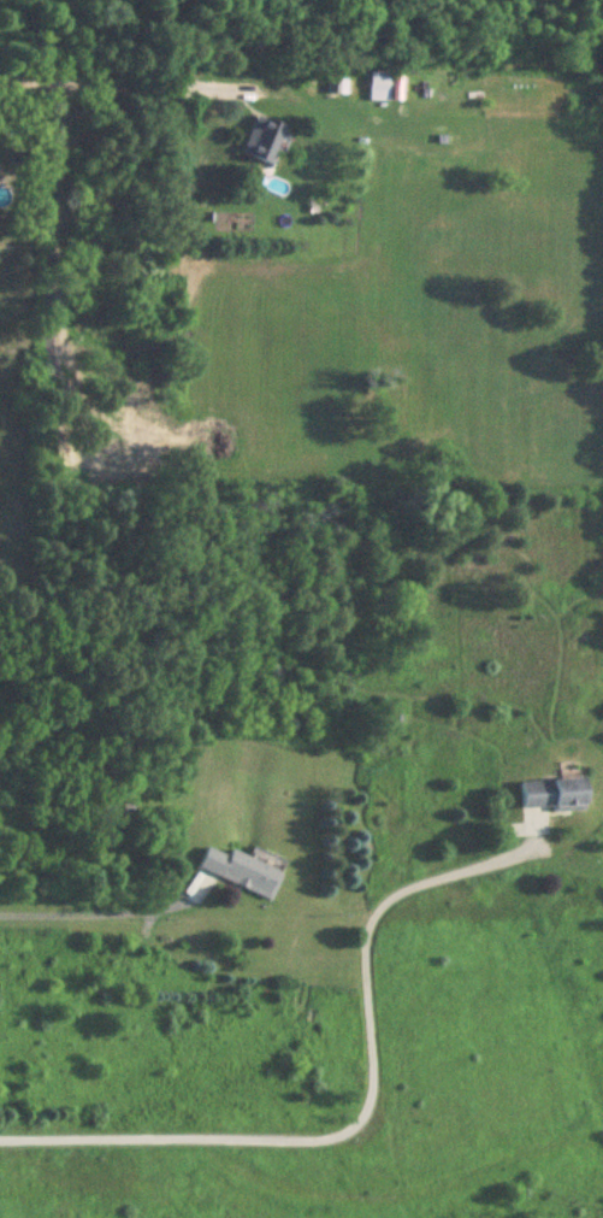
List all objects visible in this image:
road: (119, 81)
building: (379, 82)
building: (262, 141)
building: (554, 795)
building: (241, 872)
road: (73, 906)
road: (362, 1111)

